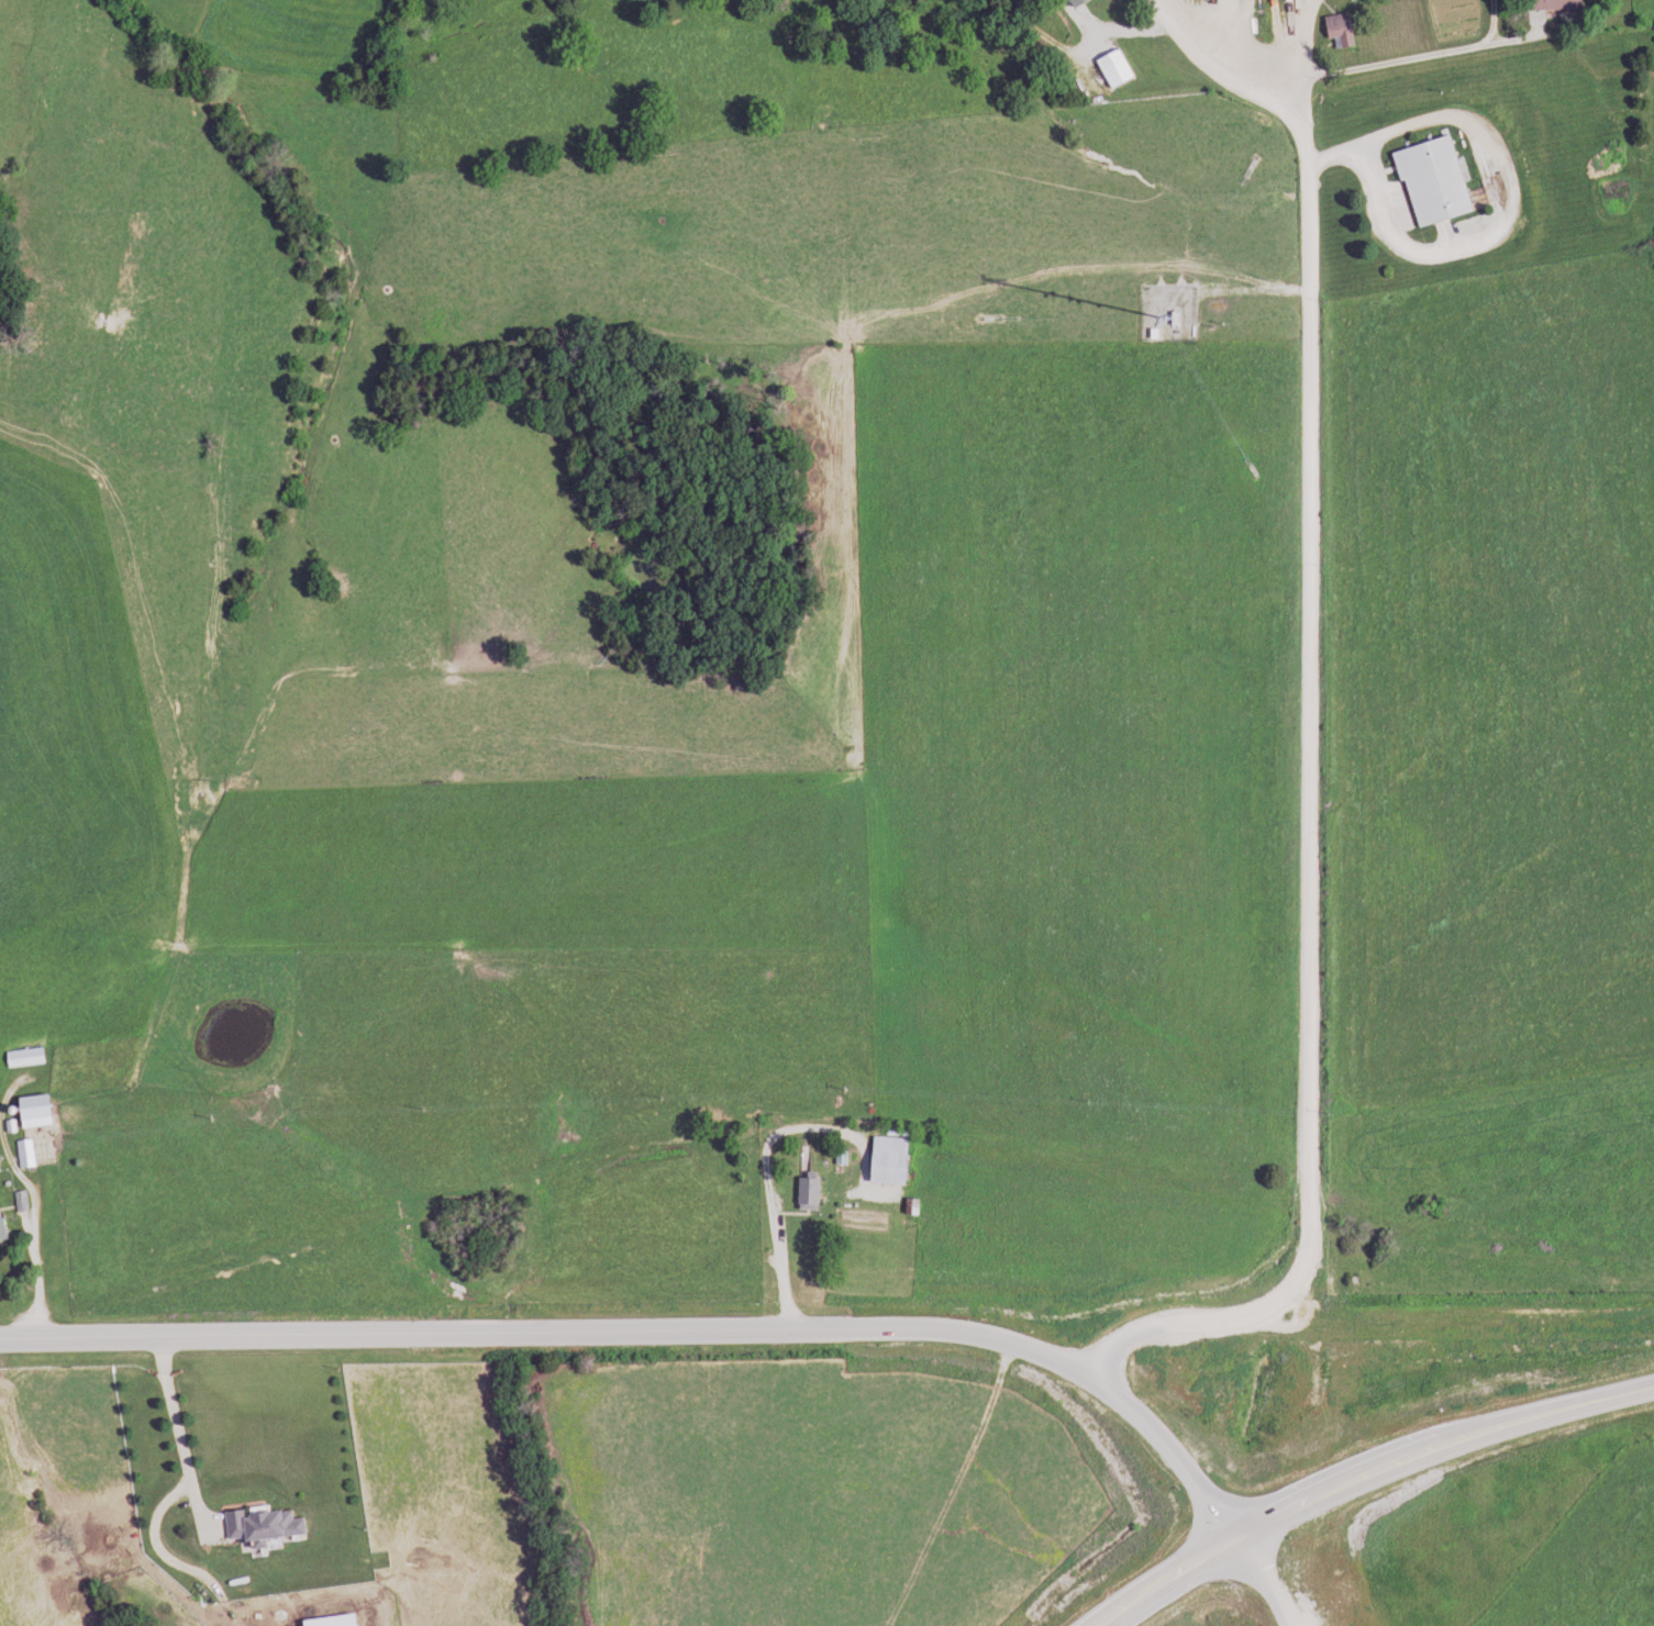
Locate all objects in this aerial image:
building: (1086, 2)
building: (1548, 4)
building: (1343, 31)
road: (1316, 56)
road: (1429, 62)
building: (1117, 69)
road: (1221, 77)
building: (1428, 180)
road: (1317, 824)
building: (30, 1057)
building: (45, 1111)
building: (29, 1152)
building: (897, 1159)
building: (0, 1166)
building: (813, 1192)
building: (25, 1201)
building: (4, 1228)
road: (661, 1332)
road: (179, 1427)
road: (1361, 1472)
building: (269, 1523)
road: (1266, 1580)
building: (341, 1621)

